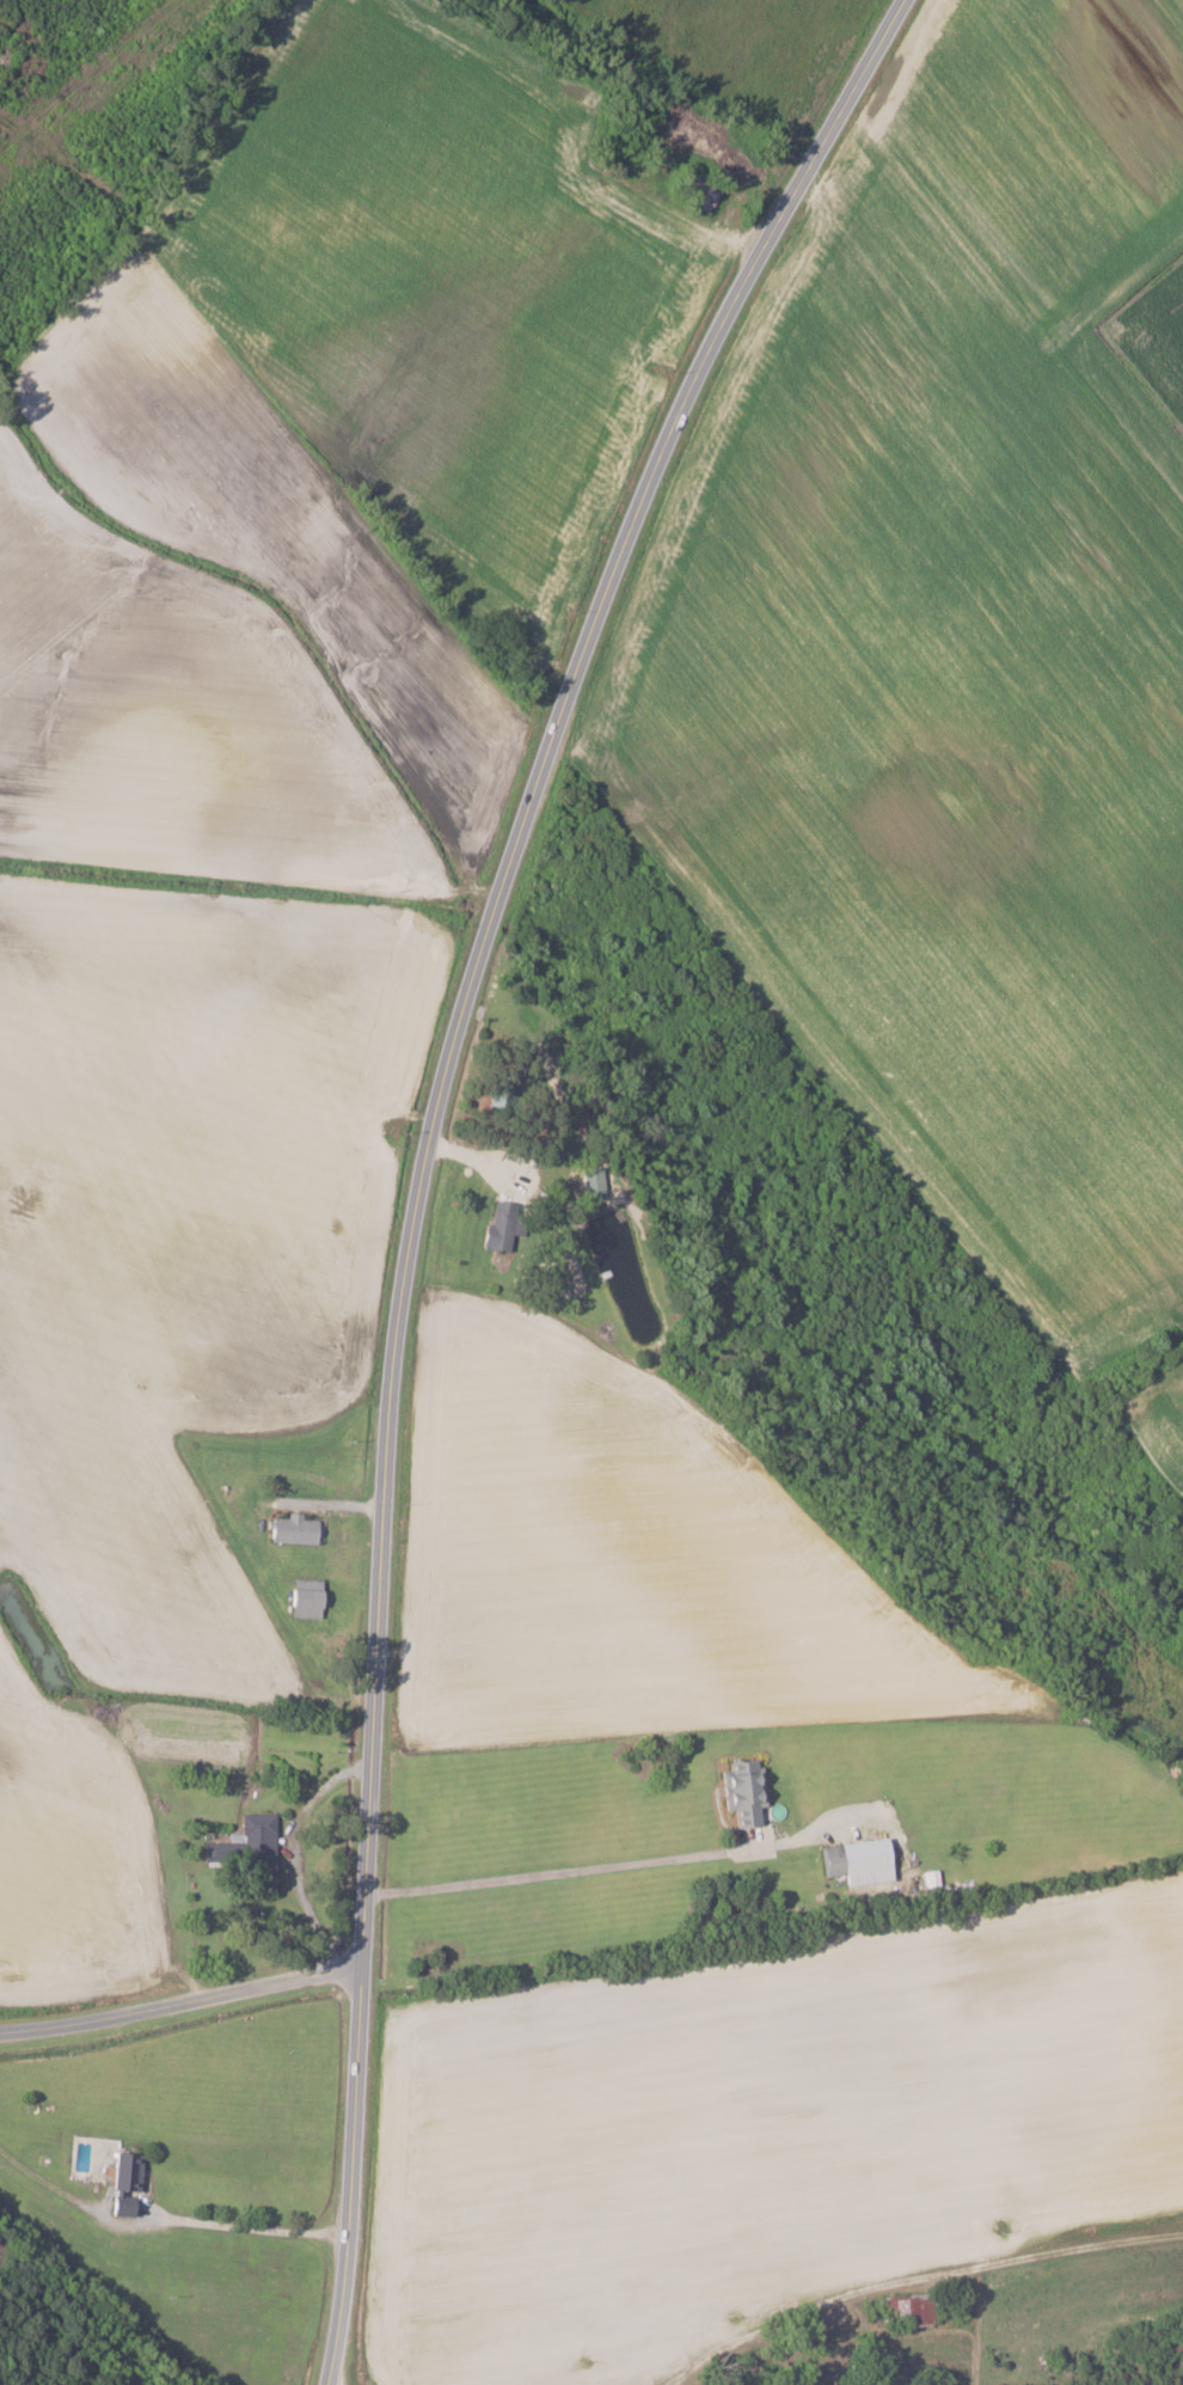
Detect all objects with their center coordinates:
road: (441, 1146)
building: (498, 1227)
building: (293, 1529)
building: (305, 1597)
building: (742, 1790)
building: (250, 1848)
building: (857, 1861)
road: (569, 1870)
road: (182, 2002)
building: (124, 2184)
road: (915, 2280)
building: (908, 2310)

